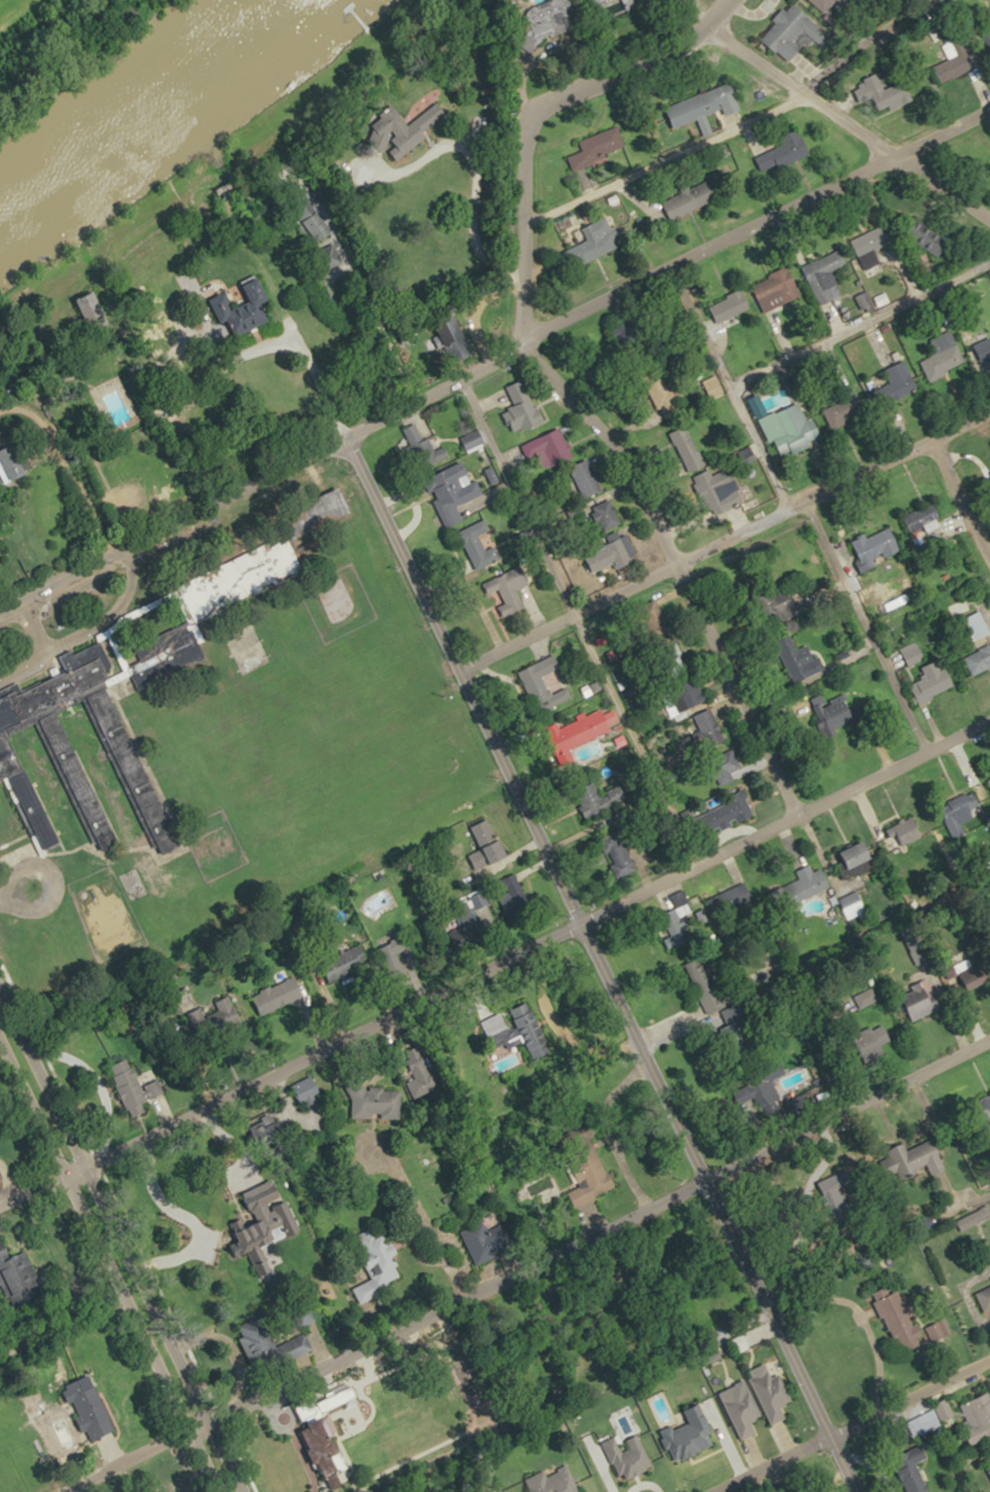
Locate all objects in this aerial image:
building: (593, 0)
building: (631, 2)
building: (832, 6)
building: (551, 17)
road: (709, 25)
building: (793, 31)
building: (986, 34)
road: (637, 48)
building: (955, 58)
building: (877, 90)
river: (122, 99)
building: (699, 104)
road: (856, 126)
building: (416, 128)
building: (598, 146)
building: (785, 150)
building: (691, 197)
road: (520, 202)
road: (467, 213)
building: (929, 237)
building: (597, 240)
building: (871, 245)
road: (658, 254)
road: (711, 271)
building: (824, 274)
building: (777, 291)
building: (255, 303)
building: (729, 305)
road: (277, 338)
building: (944, 355)
building: (897, 381)
building: (521, 407)
building: (845, 409)
building: (788, 430)
building: (472, 438)
building: (422, 446)
building: (549, 446)
building: (11, 463)
building: (586, 478)
building: (454, 489)
building: (721, 489)
road: (956, 508)
building: (316, 512)
road: (168, 514)
building: (606, 514)
building: (922, 522)
road: (722, 536)
building: (478, 544)
building: (877, 544)
building: (607, 556)
road: (674, 558)
road: (10, 576)
building: (509, 589)
building: (776, 604)
road: (107, 618)
building: (976, 624)
parking lot: (3, 634)
road: (41, 645)
park: (245, 649)
building: (798, 657)
building: (978, 658)
building: (929, 683)
building: (543, 684)
building: (694, 694)
building: (832, 711)
building: (709, 728)
building: (582, 730)
building: (11, 748)
building: (720, 817)
building: (907, 830)
building: (488, 842)
building: (618, 853)
building: (859, 853)
park: (130, 883)
building: (805, 885)
road: (15, 889)
building: (678, 915)
road: (531, 937)
road: (595, 960)
building: (975, 967)
building: (920, 1000)
building: (529, 1026)
building: (879, 1038)
building: (131, 1089)
building: (374, 1101)
building: (987, 1103)
building: (931, 1156)
building: (903, 1162)
road: (36, 1182)
building: (834, 1183)
road: (594, 1229)
building: (488, 1240)
road: (115, 1250)
building: (383, 1260)
building: (12, 1270)
road: (320, 1296)
building: (985, 1300)
building: (898, 1318)
building: (300, 1345)
building: (769, 1392)
building: (742, 1408)
building: (92, 1416)
building: (976, 1418)
road: (848, 1423)
building: (326, 1452)
road: (122, 1455)
park: (16, 1456)
building: (554, 1479)
road: (60, 1489)

